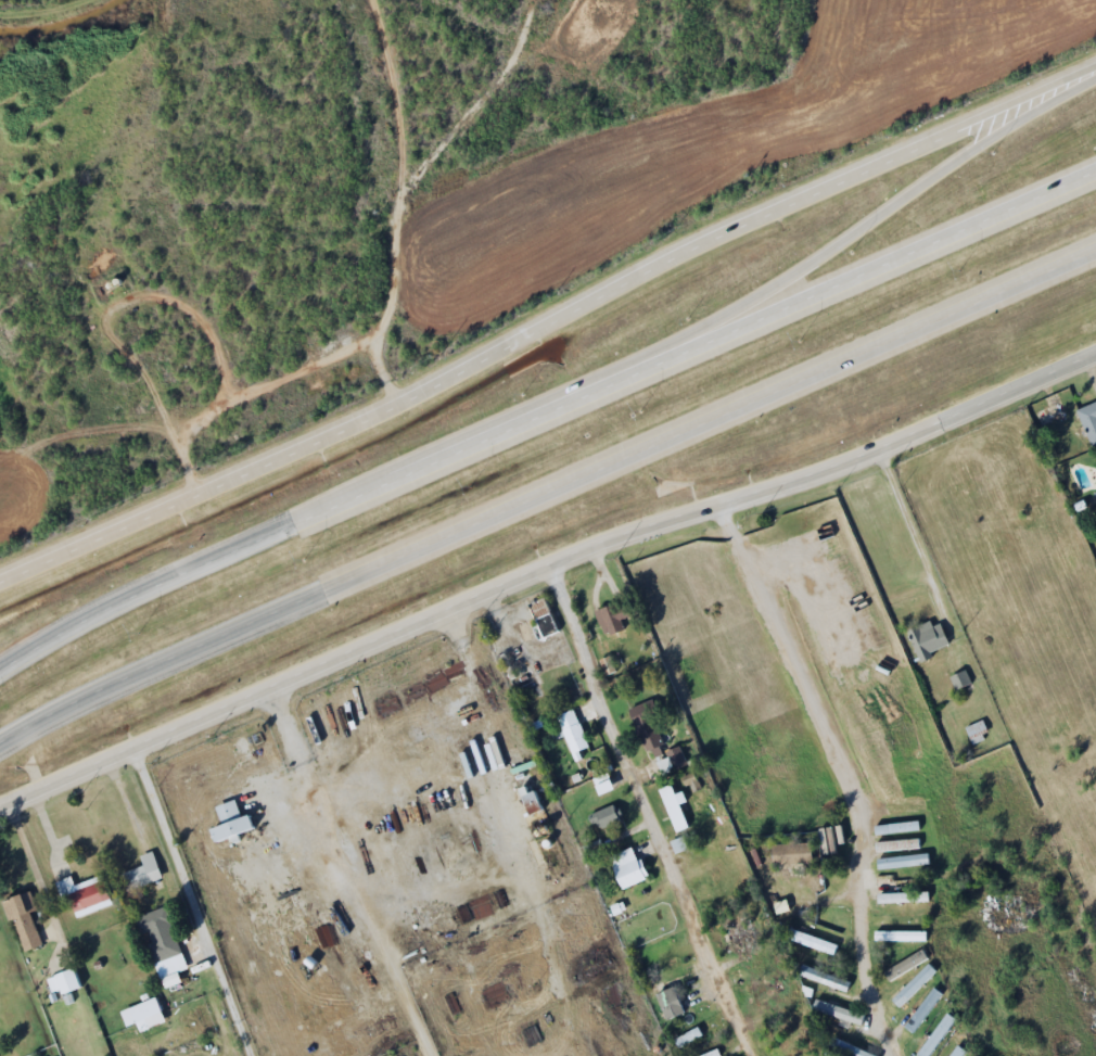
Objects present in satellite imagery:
road: (831, 245)
road: (547, 323)
building: (1091, 410)
road: (544, 416)
road: (546, 494)
road: (909, 526)
road: (611, 542)
building: (541, 618)
building: (611, 619)
building: (929, 632)
building: (960, 673)
building: (645, 724)
building: (978, 725)
building: (572, 731)
building: (676, 758)
road: (845, 767)
road: (67, 776)
building: (530, 802)
building: (673, 806)
road: (646, 811)
building: (602, 817)
building: (235, 823)
building: (790, 853)
building: (625, 867)
building: (144, 873)
road: (343, 873)
building: (87, 894)
building: (901, 898)
road: (194, 901)
building: (26, 921)
building: (904, 933)
building: (738, 934)
building: (810, 941)
building: (165, 942)
building: (904, 966)
building: (823, 978)
building: (766, 982)
building: (67, 983)
building: (912, 985)
building: (667, 1004)
building: (922, 1010)
building: (837, 1012)
building: (148, 1016)
building: (935, 1036)
building: (686, 1038)
building: (790, 1044)
building: (845, 1048)
building: (957, 1052)
building: (711, 1053)

